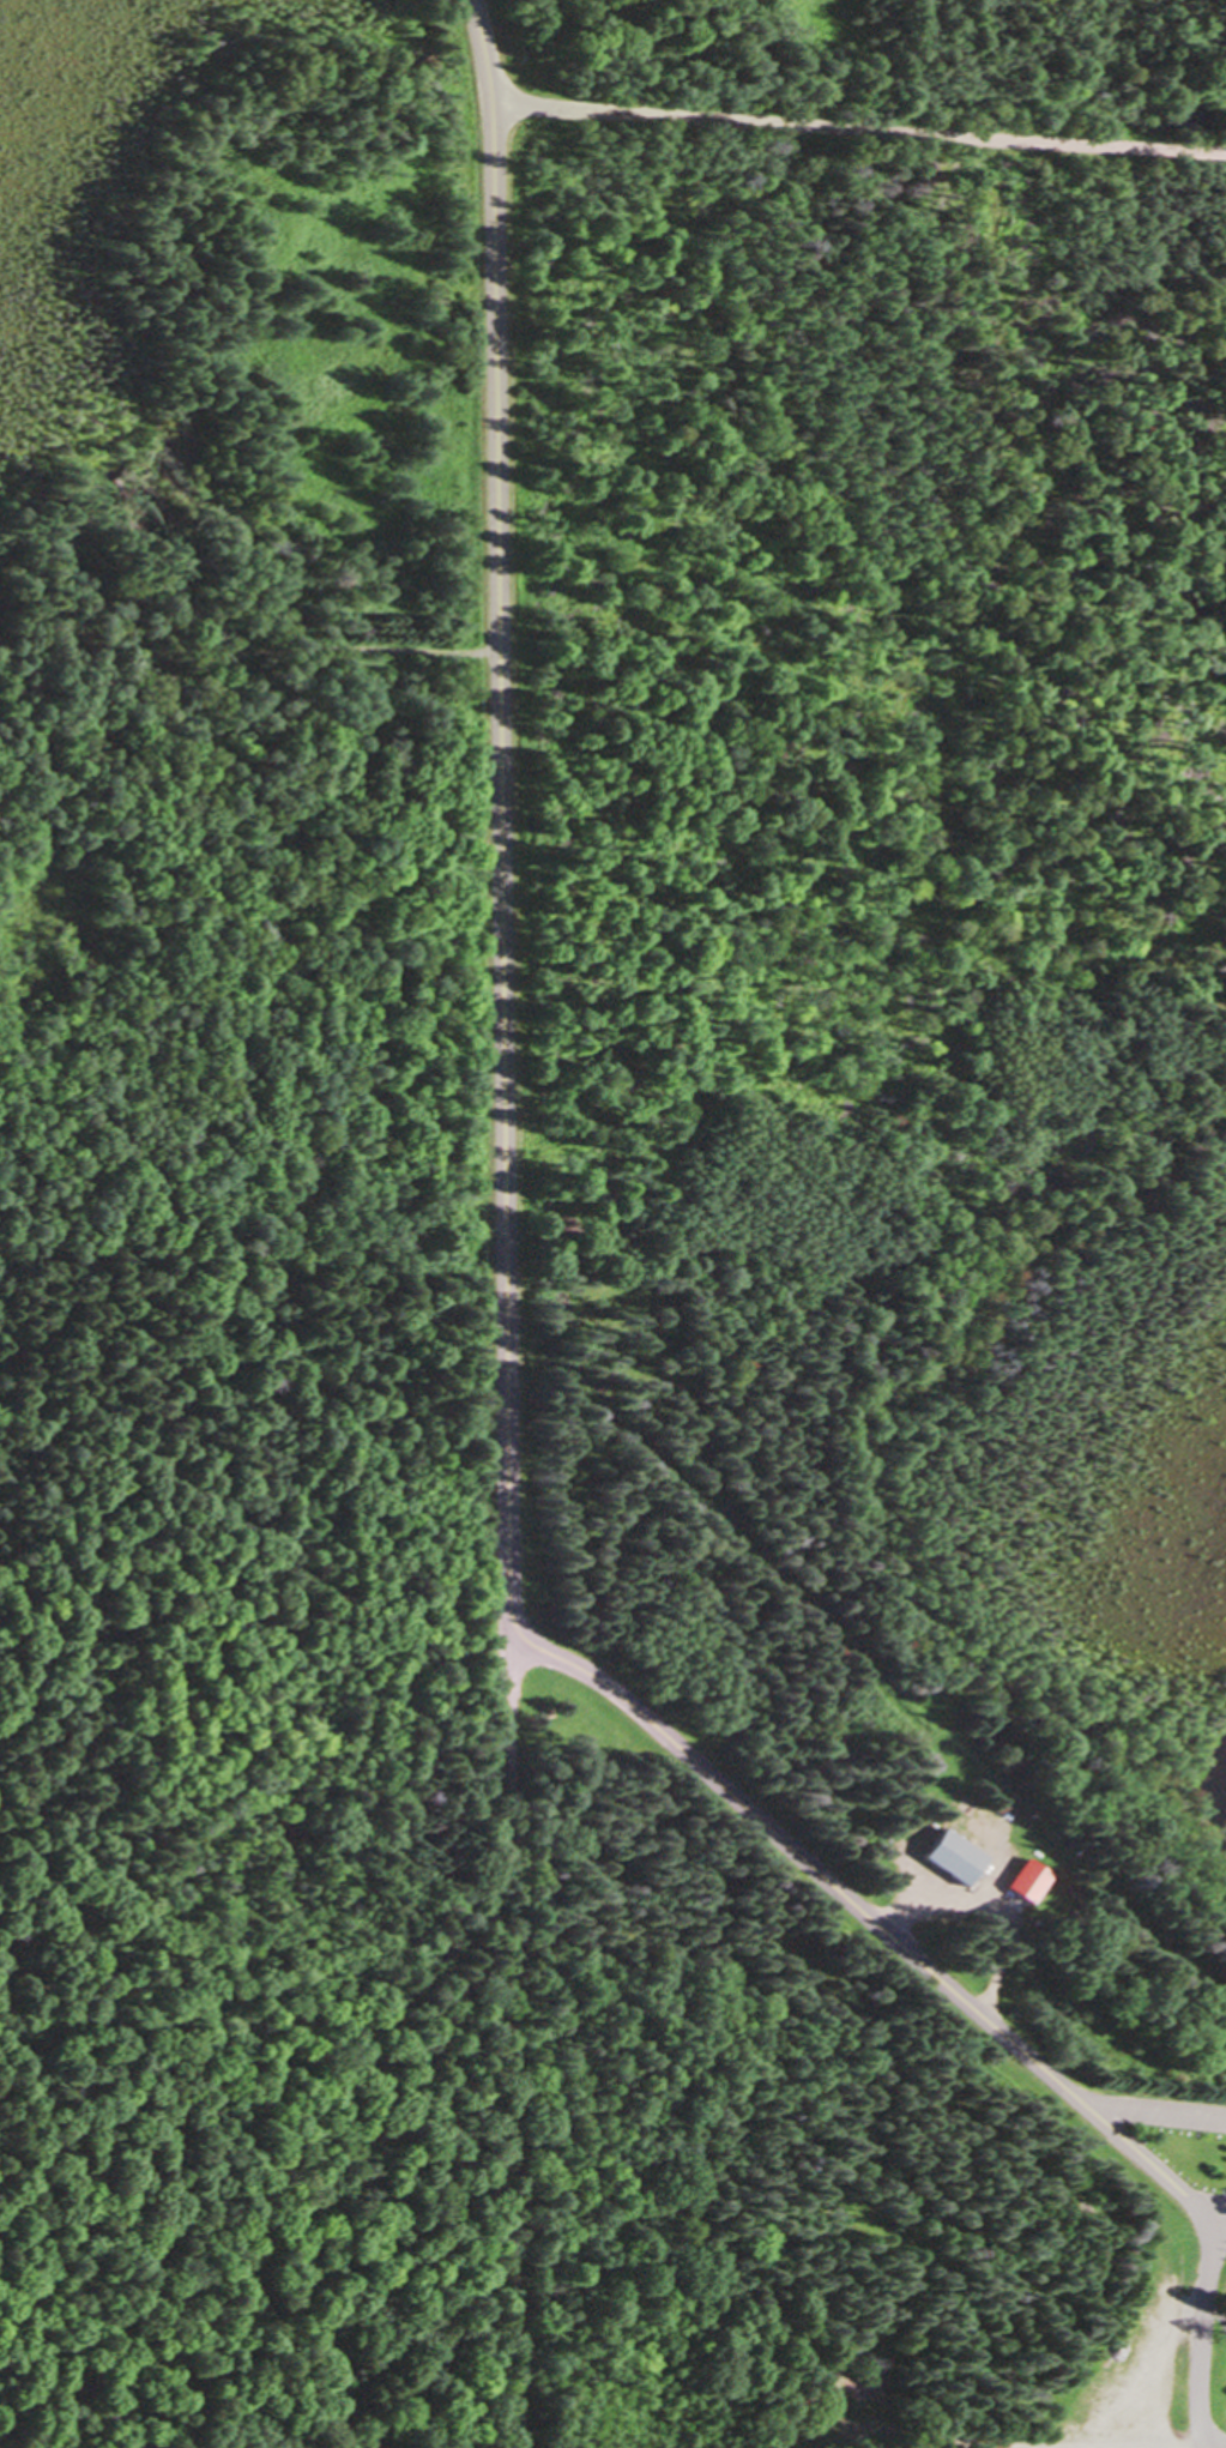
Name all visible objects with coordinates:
road: (484, 50)
road: (859, 126)
road: (248, 651)
road: (501, 868)
park: (870, 1852)
building: (1022, 1877)
road: (982, 1921)
road: (952, 1989)
road: (512, 2040)
road: (1154, 2112)
road: (1218, 2225)
road: (1153, 2442)
road: (1214, 2444)

